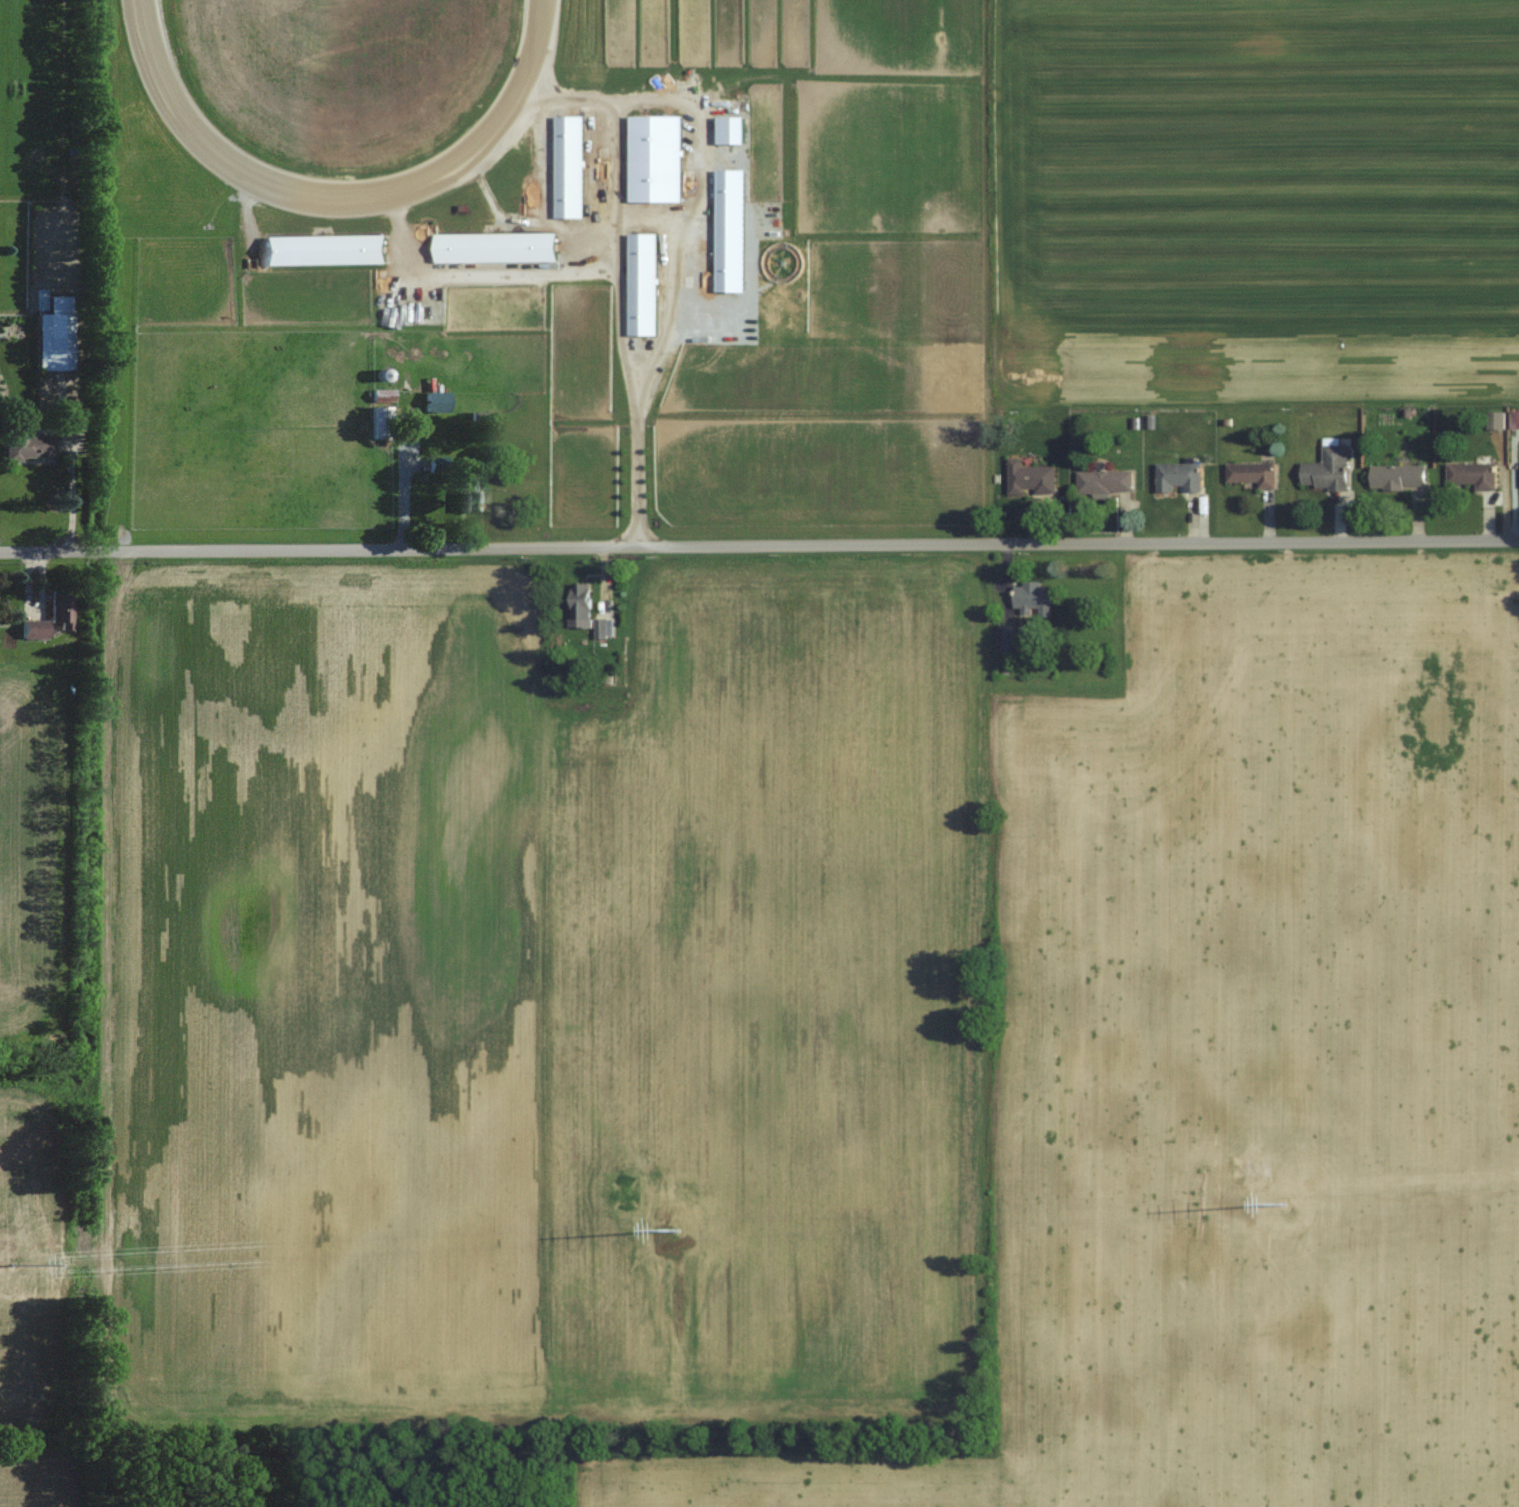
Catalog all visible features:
building: (653, 158)
building: (58, 334)
road: (642, 382)
building: (379, 395)
building: (433, 402)
building: (1494, 420)
building: (376, 423)
building: (31, 446)
building: (433, 465)
building: (1326, 469)
building: (1250, 474)
building: (1472, 475)
building: (1396, 476)
building: (1177, 477)
building: (1029, 479)
building: (1104, 482)
building: (466, 493)
road: (759, 546)
building: (1031, 598)
building: (579, 606)
building: (63, 610)
building: (604, 629)
building: (37, 630)
building: (1007, 640)
power tower: (1243, 1167)
power tower: (621, 1197)

